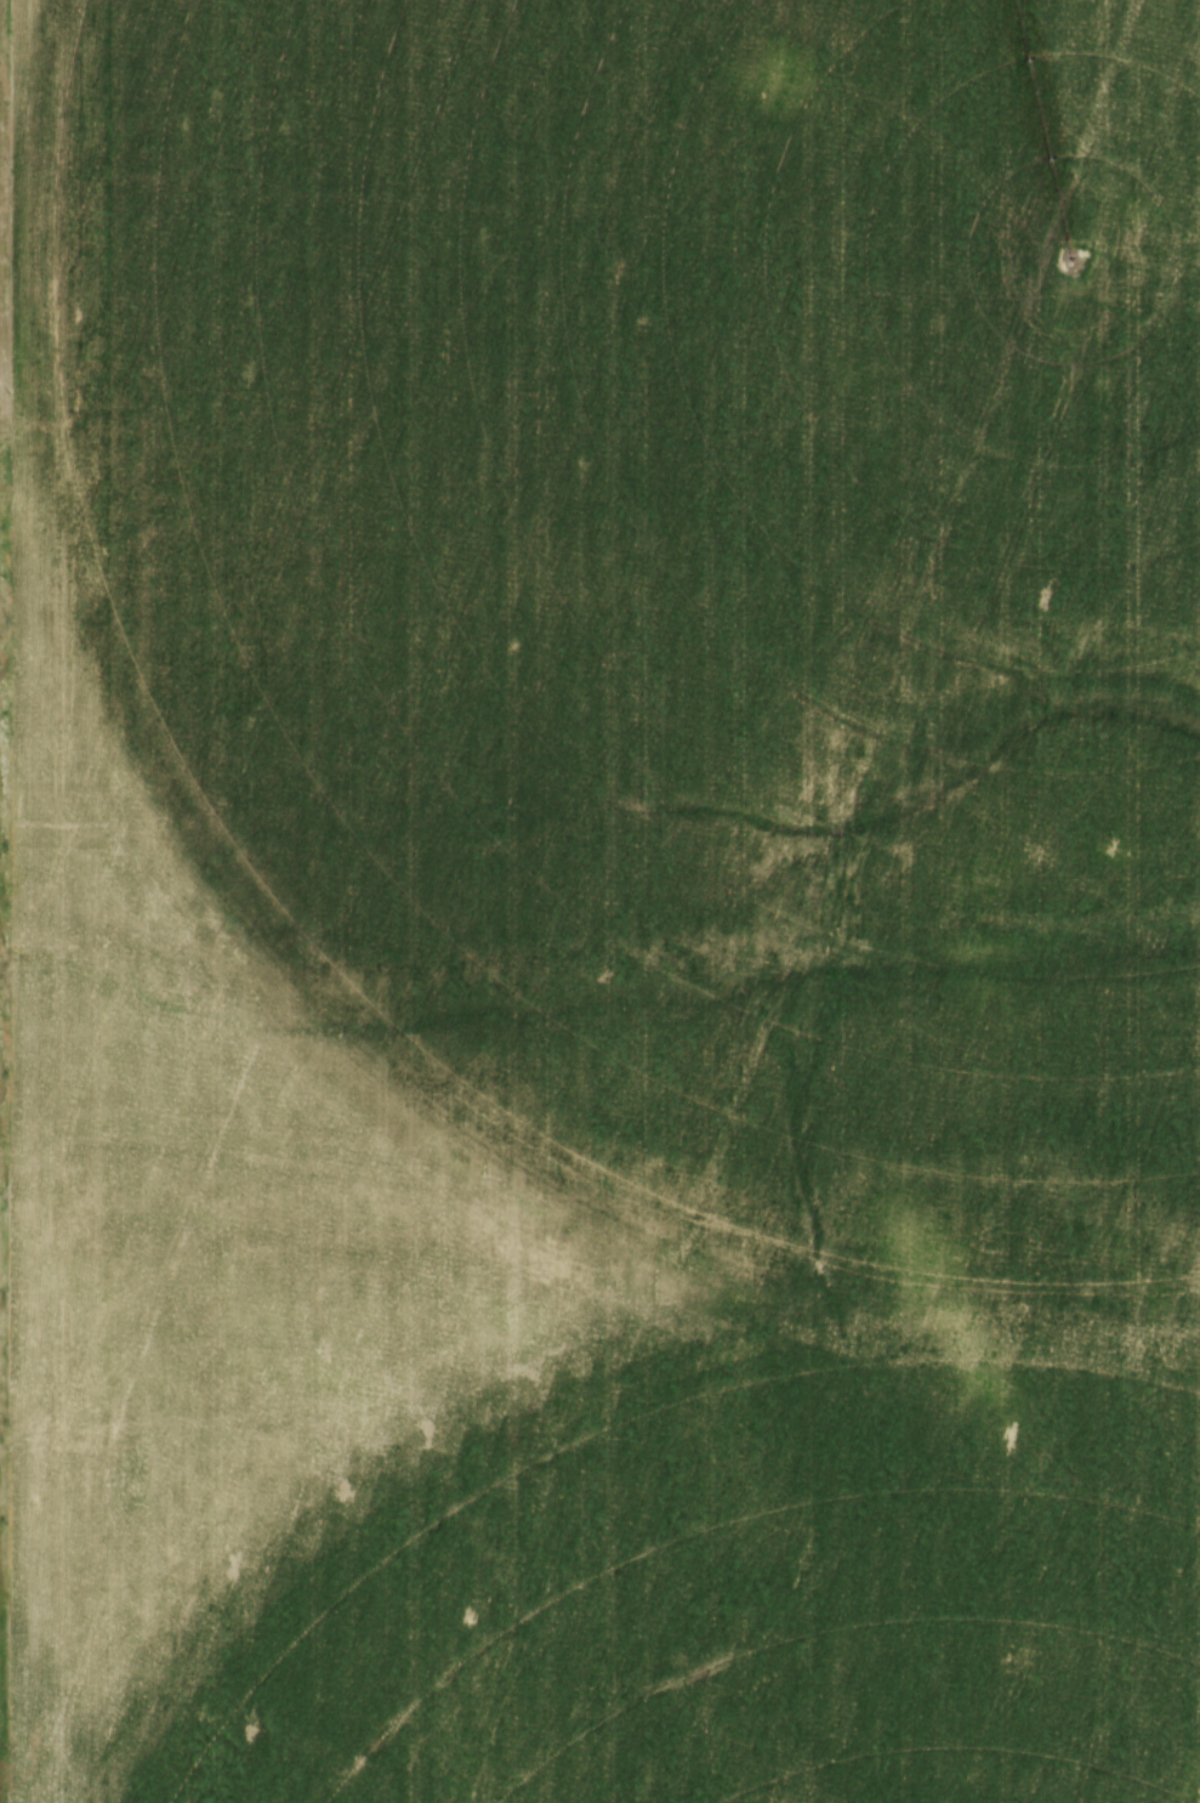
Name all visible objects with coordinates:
crop: (607, 902)

